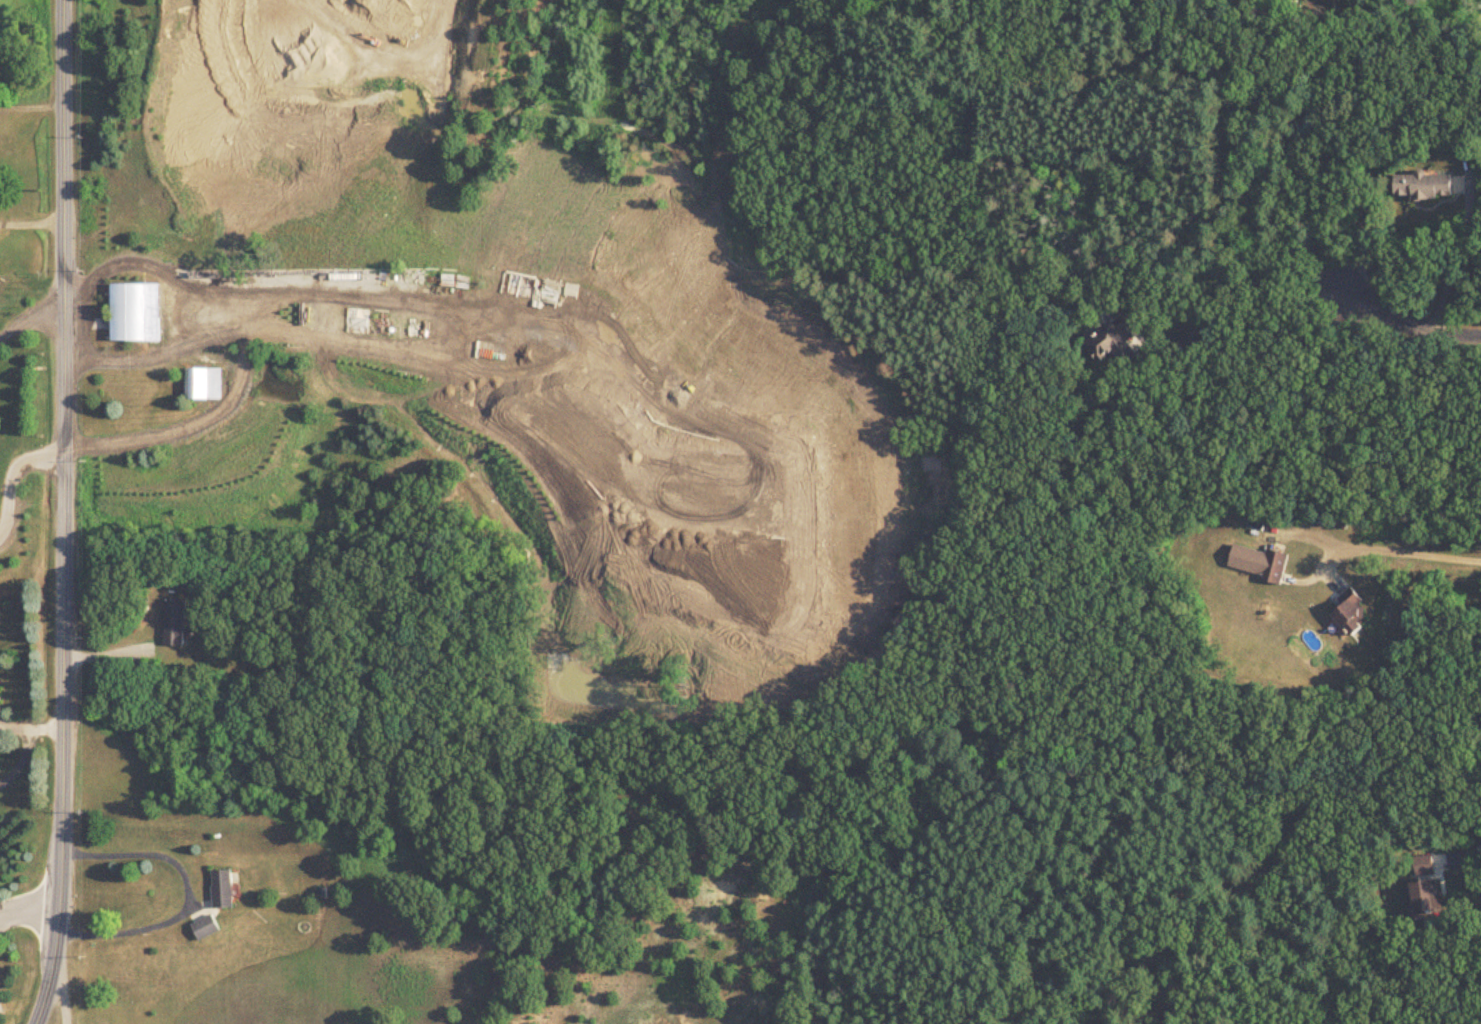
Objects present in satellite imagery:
road: (31, 110)
building: (1425, 187)
road: (31, 225)
road: (1090, 257)
road: (183, 308)
road: (31, 311)
building: (137, 313)
road: (1403, 322)
building: (1114, 345)
building: (205, 385)
road: (1181, 427)
road: (11, 479)
road: (63, 486)
road: (1397, 551)
building: (1260, 563)
building: (1359, 617)
building: (177, 623)
road: (114, 653)
road: (25, 742)
building: (1428, 870)
road: (1471, 872)
building: (224, 890)
road: (189, 894)
building: (1428, 899)
road: (29, 910)
building: (207, 929)
road: (43, 998)
road: (61, 998)

